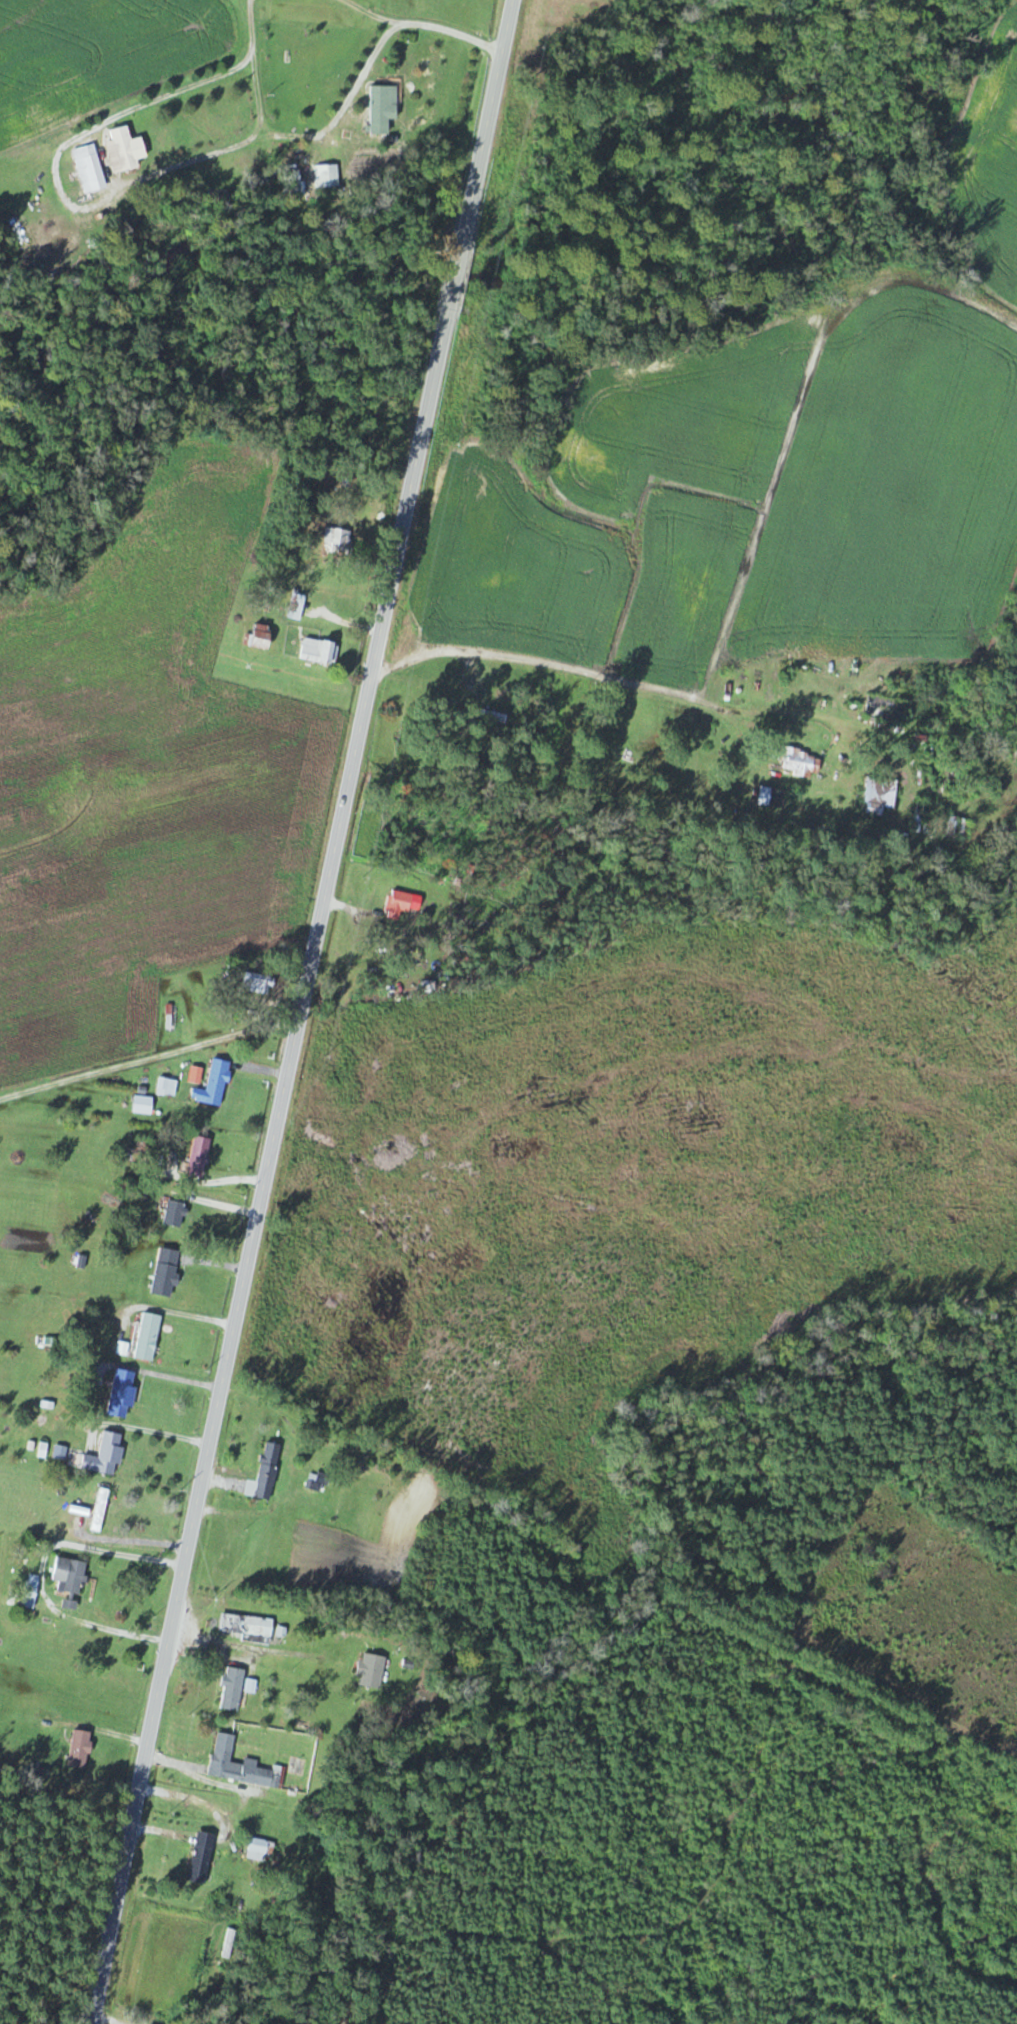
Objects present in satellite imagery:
road: (343, 36)
building: (381, 110)
road: (487, 113)
building: (127, 148)
building: (90, 168)
building: (328, 175)
road: (454, 279)
river: (498, 288)
building: (339, 540)
building: (263, 637)
building: (320, 651)
road: (634, 693)
building: (886, 711)
building: (490, 715)
building: (801, 764)
building: (880, 795)
building: (401, 902)
building: (258, 983)
road: (148, 1060)
building: (214, 1085)
building: (168, 1087)
building: (144, 1105)
building: (200, 1157)
road: (264, 1177)
building: (175, 1213)
building: (166, 1271)
road: (314, 1278)
building: (149, 1336)
road: (169, 1375)
building: (123, 1393)
road: (152, 1429)
building: (106, 1455)
building: (268, 1471)
building: (101, 1510)
road: (42, 1569)
building: (70, 1575)
building: (31, 1591)
building: (247, 1625)
building: (372, 1671)
building: (233, 1689)
building: (81, 1748)
building: (242, 1765)
building: (259, 1849)
building: (284, 1851)
building: (202, 1857)

